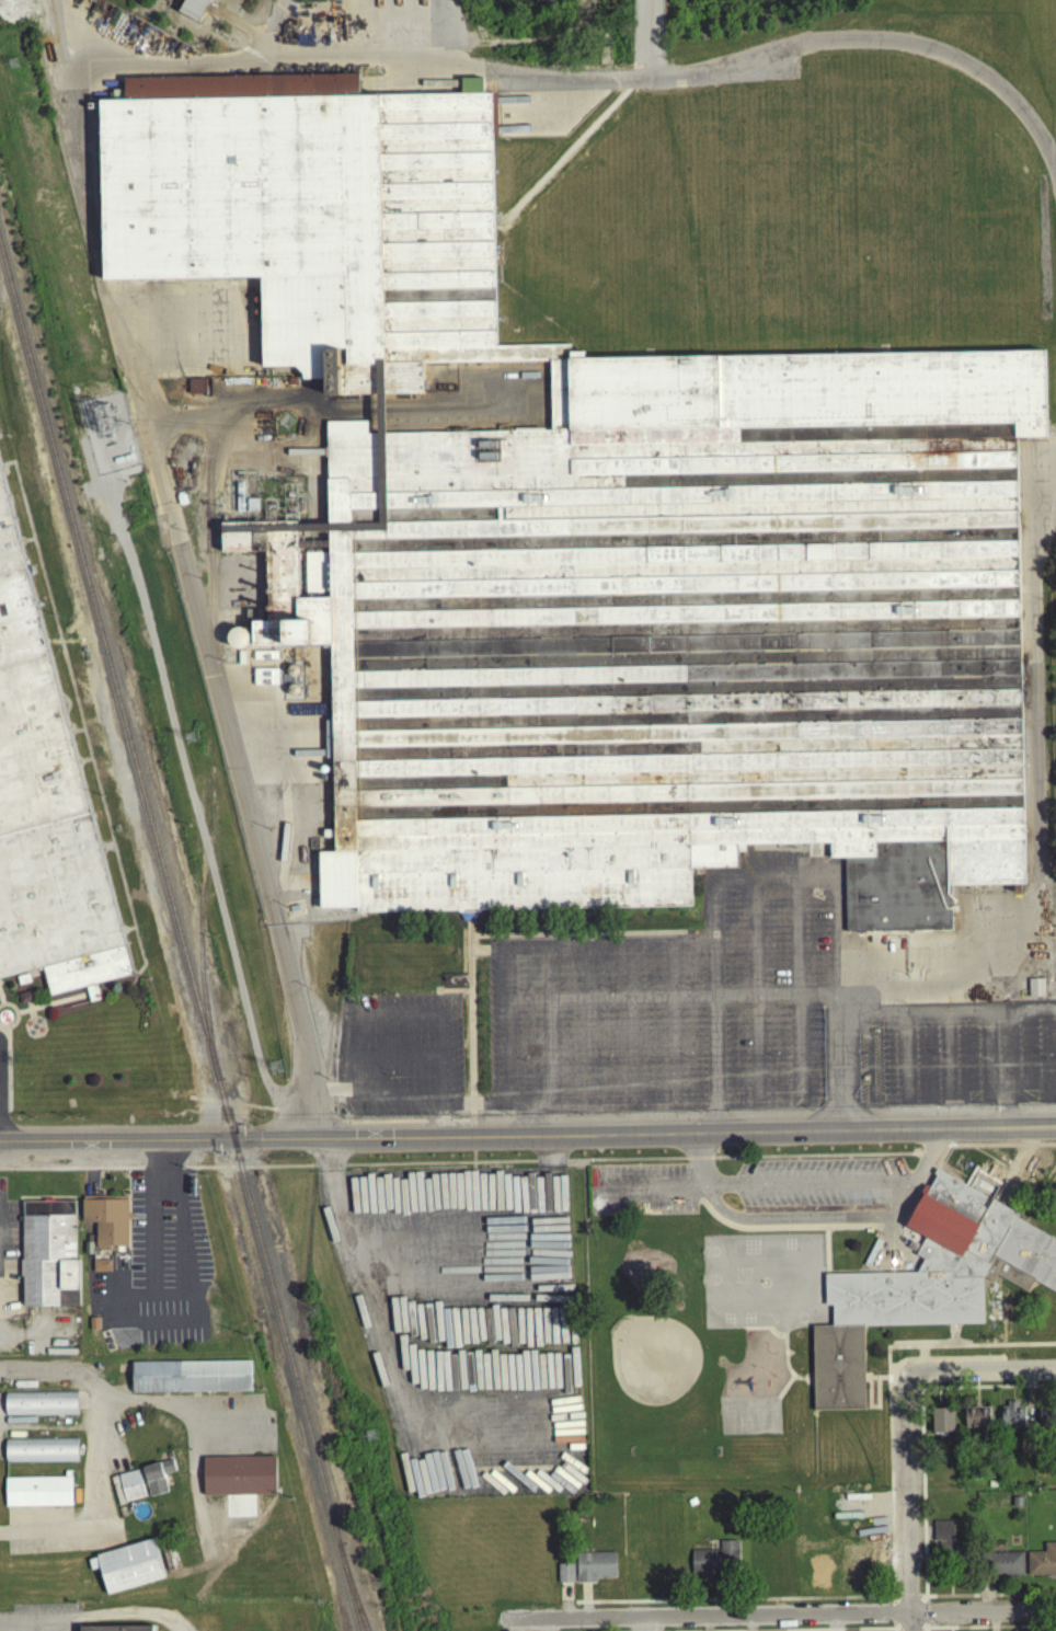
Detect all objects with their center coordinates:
building: (542, 4)
building: (192, 8)
road: (279, 30)
road: (449, 34)
road: (56, 41)
road: (646, 42)
power tower: (14, 60)
road: (631, 88)
road: (62, 95)
parking lot: (539, 117)
road: (561, 120)
road: (560, 164)
building: (192, 390)
road: (313, 395)
road: (251, 407)
road: (435, 411)
power substation: (110, 438)
road: (208, 499)
power substation: (266, 503)
building: (597, 550)
railway: (102, 652)
building: (244, 652)
building: (265, 681)
building: (290, 685)
power tower: (191, 735)
road: (1037, 799)
building: (45, 815)
road: (723, 887)
parking lot: (1054, 931)
road: (575, 939)
road: (755, 939)
road: (795, 939)
road: (833, 941)
road: (630, 951)
road: (475, 953)
road: (471, 954)
railway: (198, 972)
road: (670, 975)
building: (22, 984)
building: (1037, 985)
road: (0, 986)
road: (45, 989)
road: (451, 996)
road: (738, 999)
building: (25, 1002)
parking lot: (688, 1004)
road: (0, 1008)
road: (49, 1008)
road: (27, 1011)
road: (505, 1011)
road: (41, 1013)
road: (948, 1015)
road: (368, 1018)
road: (14, 1021)
road: (30, 1021)
road: (30, 1023)
road: (469, 1027)
road: (28, 1030)
road: (631, 1030)
road: (589, 1032)
road: (1, 1034)
road: (5, 1043)
road: (797, 1053)
road: (756, 1054)
road: (553, 1055)
road: (672, 1055)
parking lot: (956, 1059)
road: (395, 1060)
parking lot: (399, 1060)
road: (946, 1061)
road: (905, 1063)
road: (869, 1064)
road: (713, 1069)
power tower: (274, 1072)
road: (1002, 1073)
parking lot: (1, 1079)
road: (329, 1093)
road: (1030, 1105)
road: (937, 1107)
road: (230, 1109)
road: (756, 1109)
road: (632, 1110)
road: (542, 1112)
road: (519, 1113)
road: (307, 1121)
road: (471, 1125)
road: (404, 1126)
road: (532, 1127)
road: (643, 1139)
road: (471, 1144)
road: (1014, 1145)
road: (115, 1146)
road: (1018, 1147)
road: (992, 1148)
road: (996, 1150)
road: (1034, 1150)
road: (919, 1159)
road: (930, 1159)
road: (929, 1160)
road: (1028, 1162)
road: (533, 1164)
road: (684, 1164)
road: (701, 1164)
road: (472, 1165)
road: (549, 1165)
road: (163, 1167)
road: (310, 1172)
road: (141, 1173)
road: (160, 1173)
road: (70, 1174)
road: (180, 1174)
road: (1012, 1178)
road: (999, 1187)
parking lot: (743, 1190)
road: (753, 1190)
road: (922, 1192)
road: (923, 1194)
road: (851, 1202)
road: (861, 1202)
road: (813, 1224)
building: (106, 1226)
road: (892, 1228)
road: (783, 1233)
road: (908, 1236)
building: (87, 1242)
building: (87, 1252)
road: (826, 1255)
building: (48, 1260)
road: (356, 1265)
building: (101, 1272)
road: (862, 1274)
road: (871, 1276)
building: (927, 1286)
road: (116, 1298)
road: (167, 1298)
road: (150, 1314)
building: (93, 1329)
parking lot: (464, 1329)
road: (157, 1331)
road: (774, 1335)
road: (946, 1336)
road: (34, 1339)
road: (380, 1342)
railway: (283, 1343)
road: (942, 1346)
road: (961, 1346)
road: (923, 1347)
road: (953, 1348)
road: (783, 1349)
road: (989, 1360)
road: (944, 1364)
road: (979, 1376)
building: (190, 1381)
road: (784, 1391)
road: (889, 1391)
road: (887, 1393)
building: (39, 1408)
road: (876, 1412)
road: (177, 1413)
building: (1011, 1420)
building: (1046, 1421)
building: (975, 1422)
building: (941, 1424)
power tower: (370, 1433)
building: (1025, 1447)
building: (39, 1455)
road: (96, 1461)
road: (414, 1478)
building: (156, 1481)
building: (238, 1481)
building: (129, 1490)
building: (116, 1495)
building: (37, 1496)
road: (920, 1496)
road: (907, 1507)
building: (942, 1541)
building: (168, 1561)
building: (715, 1563)
building: (1042, 1565)
building: (1003, 1567)
building: (858, 1570)
building: (127, 1571)
building: (594, 1571)
building: (564, 1577)
road: (906, 1601)
road: (925, 1601)
road: (736, 1604)
road: (564, 1605)
railway: (357, 1606)
street lamp: (77, 1608)
road: (569, 1608)
road: (87, 1616)
road: (925, 1617)
road: (128, 1618)
road: (778, 1619)
road: (892, 1619)
parking lot: (41, 1620)
road: (38, 1622)
road: (20, 1627)
road: (893, 1629)
road: (926, 1629)
building: (141, 1630)

